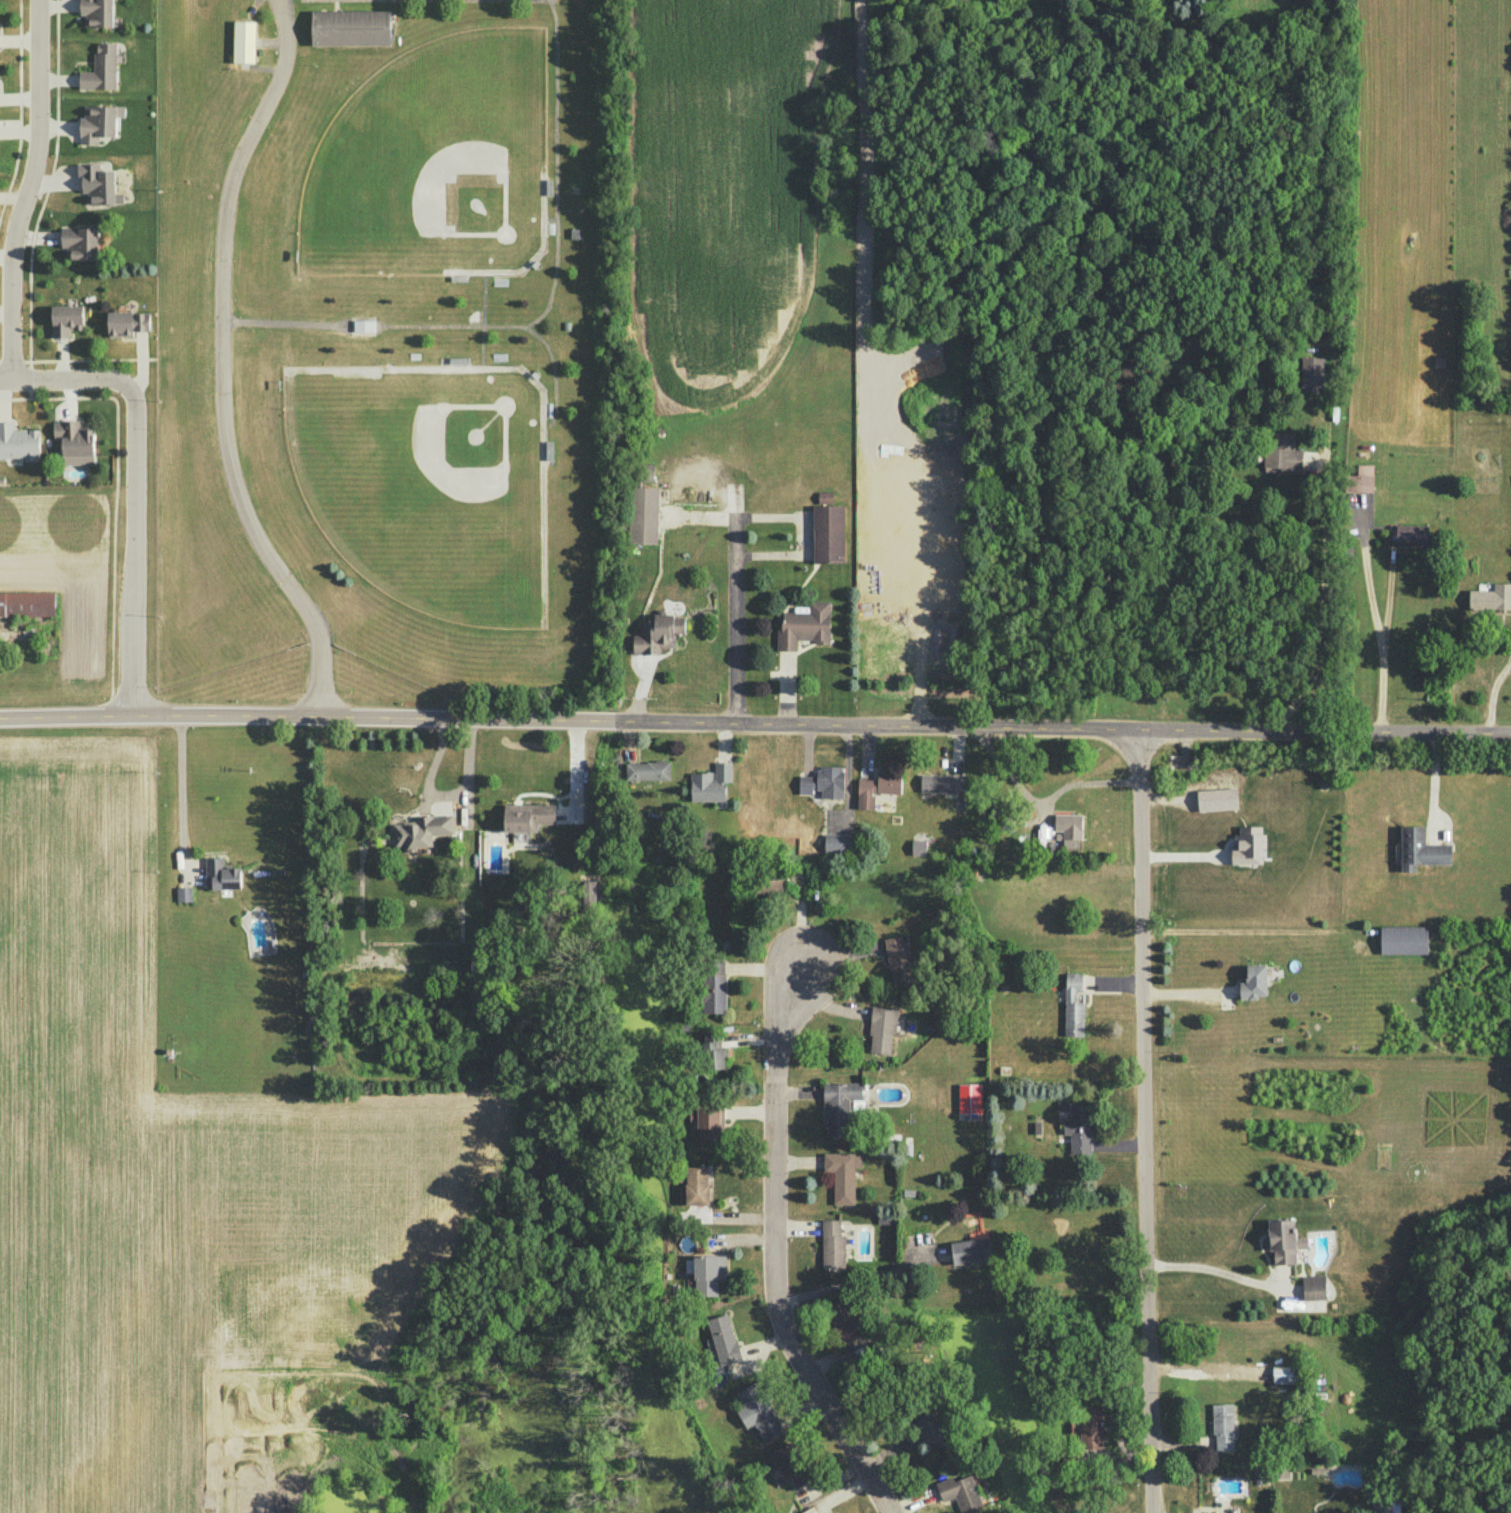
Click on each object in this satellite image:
parking lot: (517, 0)
building: (97, 12)
building: (350, 27)
building: (243, 41)
building: (101, 68)
building: (99, 122)
park: (445, 160)
road: (566, 167)
building: (98, 184)
road: (26, 190)
building: (80, 242)
road: (494, 318)
building: (66, 319)
road: (297, 321)
building: (126, 322)
road: (462, 323)
building: (363, 325)
road: (562, 356)
road: (235, 366)
building: (1312, 373)
road: (55, 381)
building: (75, 441)
building: (18, 442)
building: (1282, 454)
building: (1360, 479)
park: (438, 481)
building: (643, 515)
building: (828, 533)
building: (1409, 535)
road: (135, 542)
building: (1491, 598)
road: (1321, 600)
building: (27, 603)
road: (733, 605)
building: (804, 625)
building: (658, 633)
road: (1383, 643)
road: (1488, 676)
road: (345, 716)
road: (1100, 727)
building: (647, 770)
building: (824, 782)
building: (942, 783)
building: (711, 784)
building: (877, 788)
road: (181, 794)
building: (1217, 798)
road: (1042, 800)
building: (527, 819)
building: (1069, 828)
building: (422, 830)
building: (837, 842)
building: (1248, 845)
building: (918, 847)
building: (1420, 849)
building: (221, 874)
building: (768, 883)
building: (591, 891)
building: (184, 893)
building: (1403, 939)
building: (901, 961)
building: (1254, 982)
building: (714, 986)
building: (1073, 1005)
building: (882, 1028)
building: (714, 1051)
building: (969, 1098)
building: (839, 1105)
road: (1145, 1120)
building: (709, 1123)
building: (1079, 1128)
building: (842, 1175)
building: (697, 1185)
building: (1283, 1240)
building: (833, 1244)
road: (773, 1248)
building: (972, 1249)
road: (1224, 1269)
building: (709, 1273)
road: (850, 1279)
building: (1313, 1287)
building: (844, 1319)
building: (723, 1339)
building: (1284, 1374)
building: (759, 1412)
building: (1223, 1427)
building: (1091, 1429)
building: (931, 1431)
building: (790, 1464)
building: (960, 1492)
building: (810, 1510)
building: (833, 1512)

